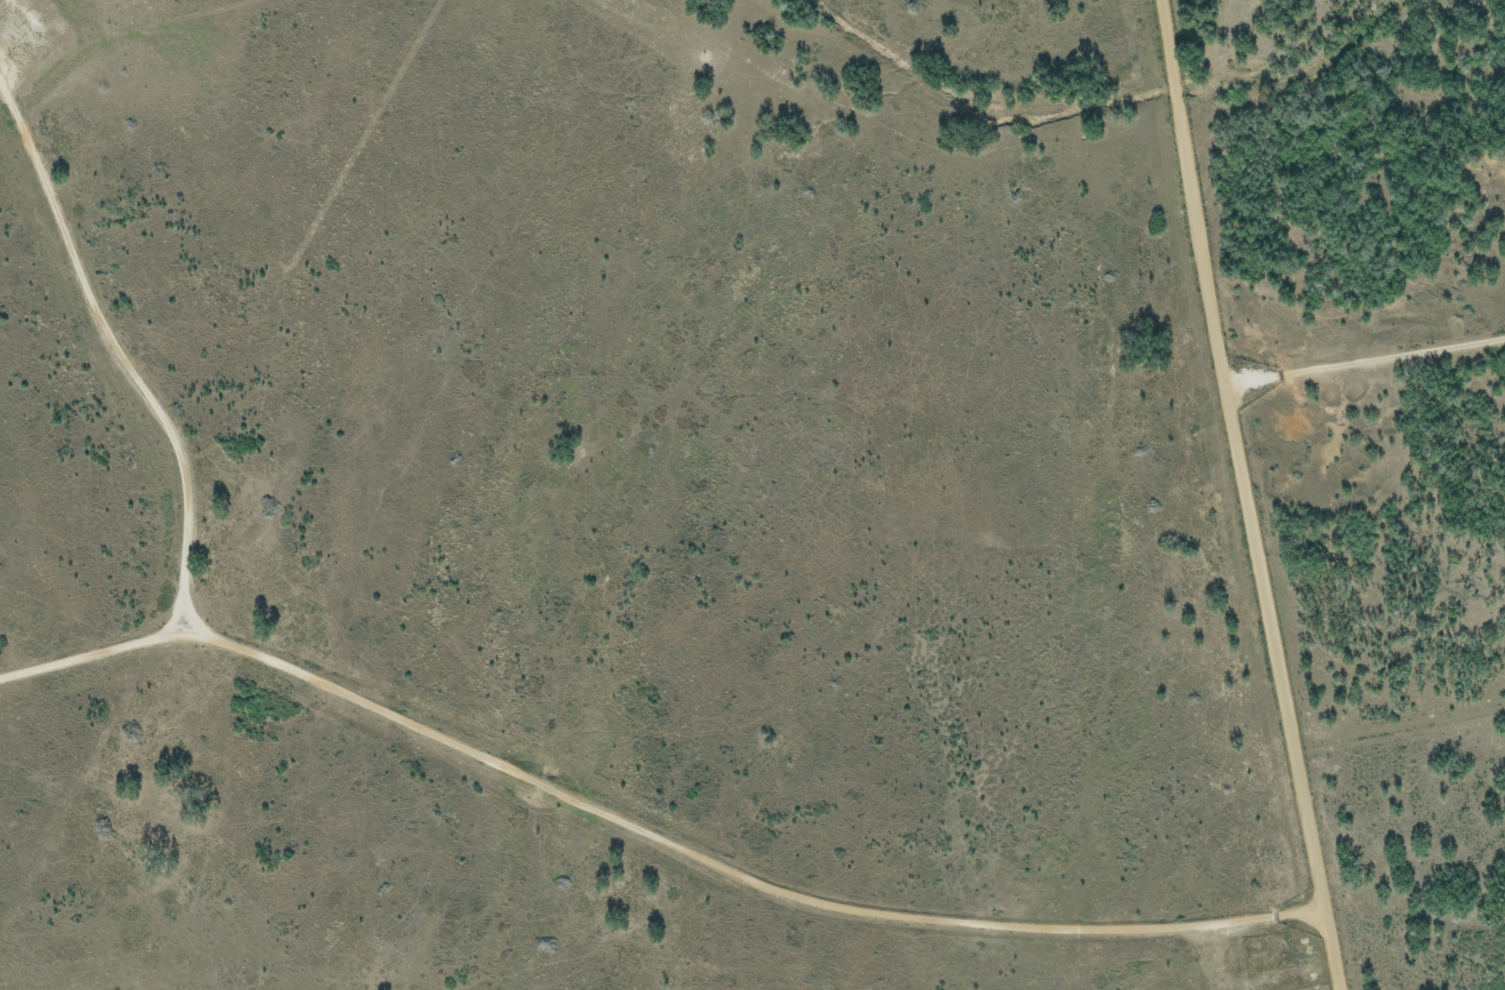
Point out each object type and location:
road: (1250, 496)
road: (214, 832)
road: (650, 859)

